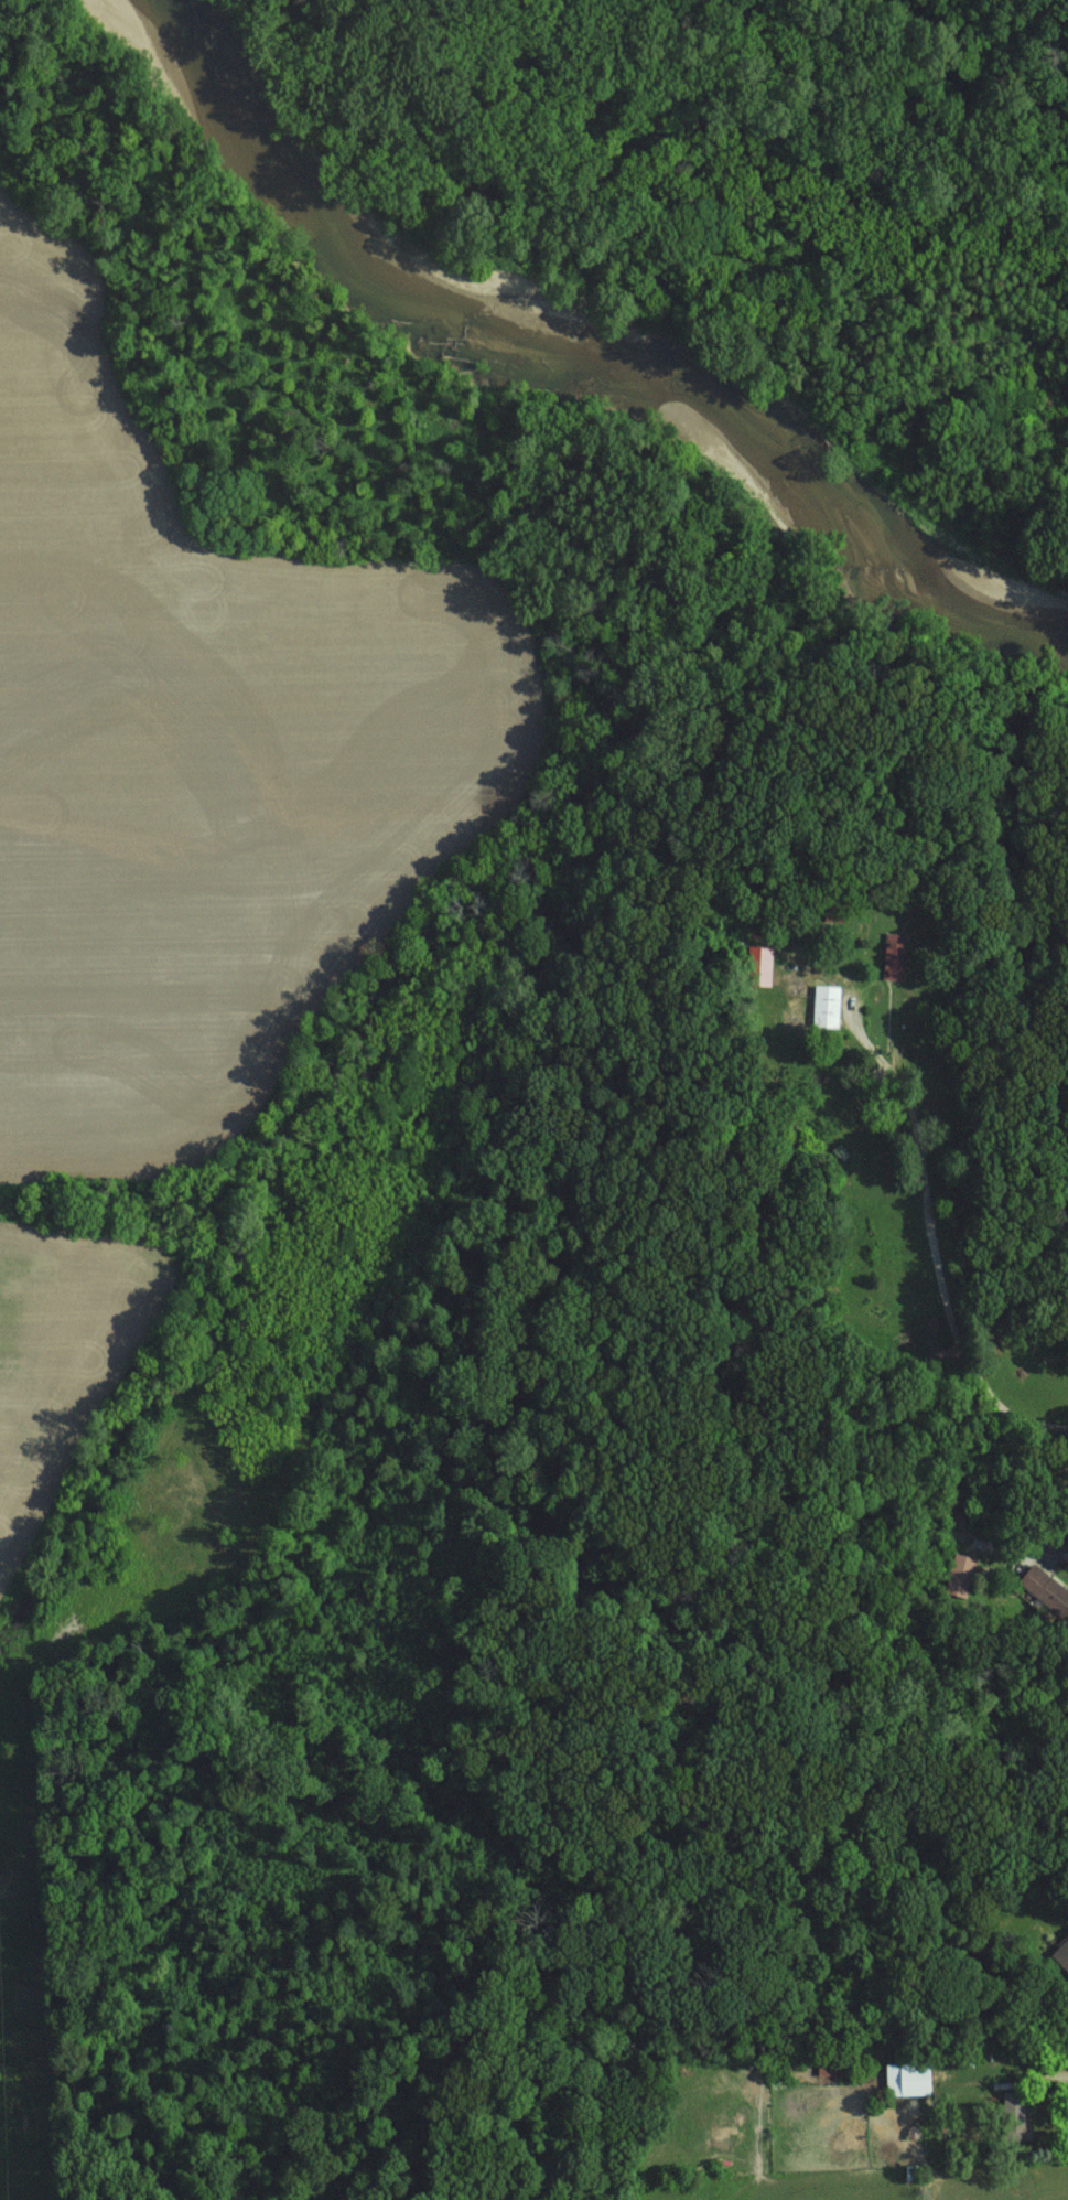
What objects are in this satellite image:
river: (581, 358)
building: (894, 955)
building: (827, 1004)
road: (946, 1195)
building: (962, 1565)
building: (1046, 1589)
road: (569, 1726)
road: (559, 1943)
building: (1061, 1954)
building: (908, 2079)
road: (1043, 2094)

